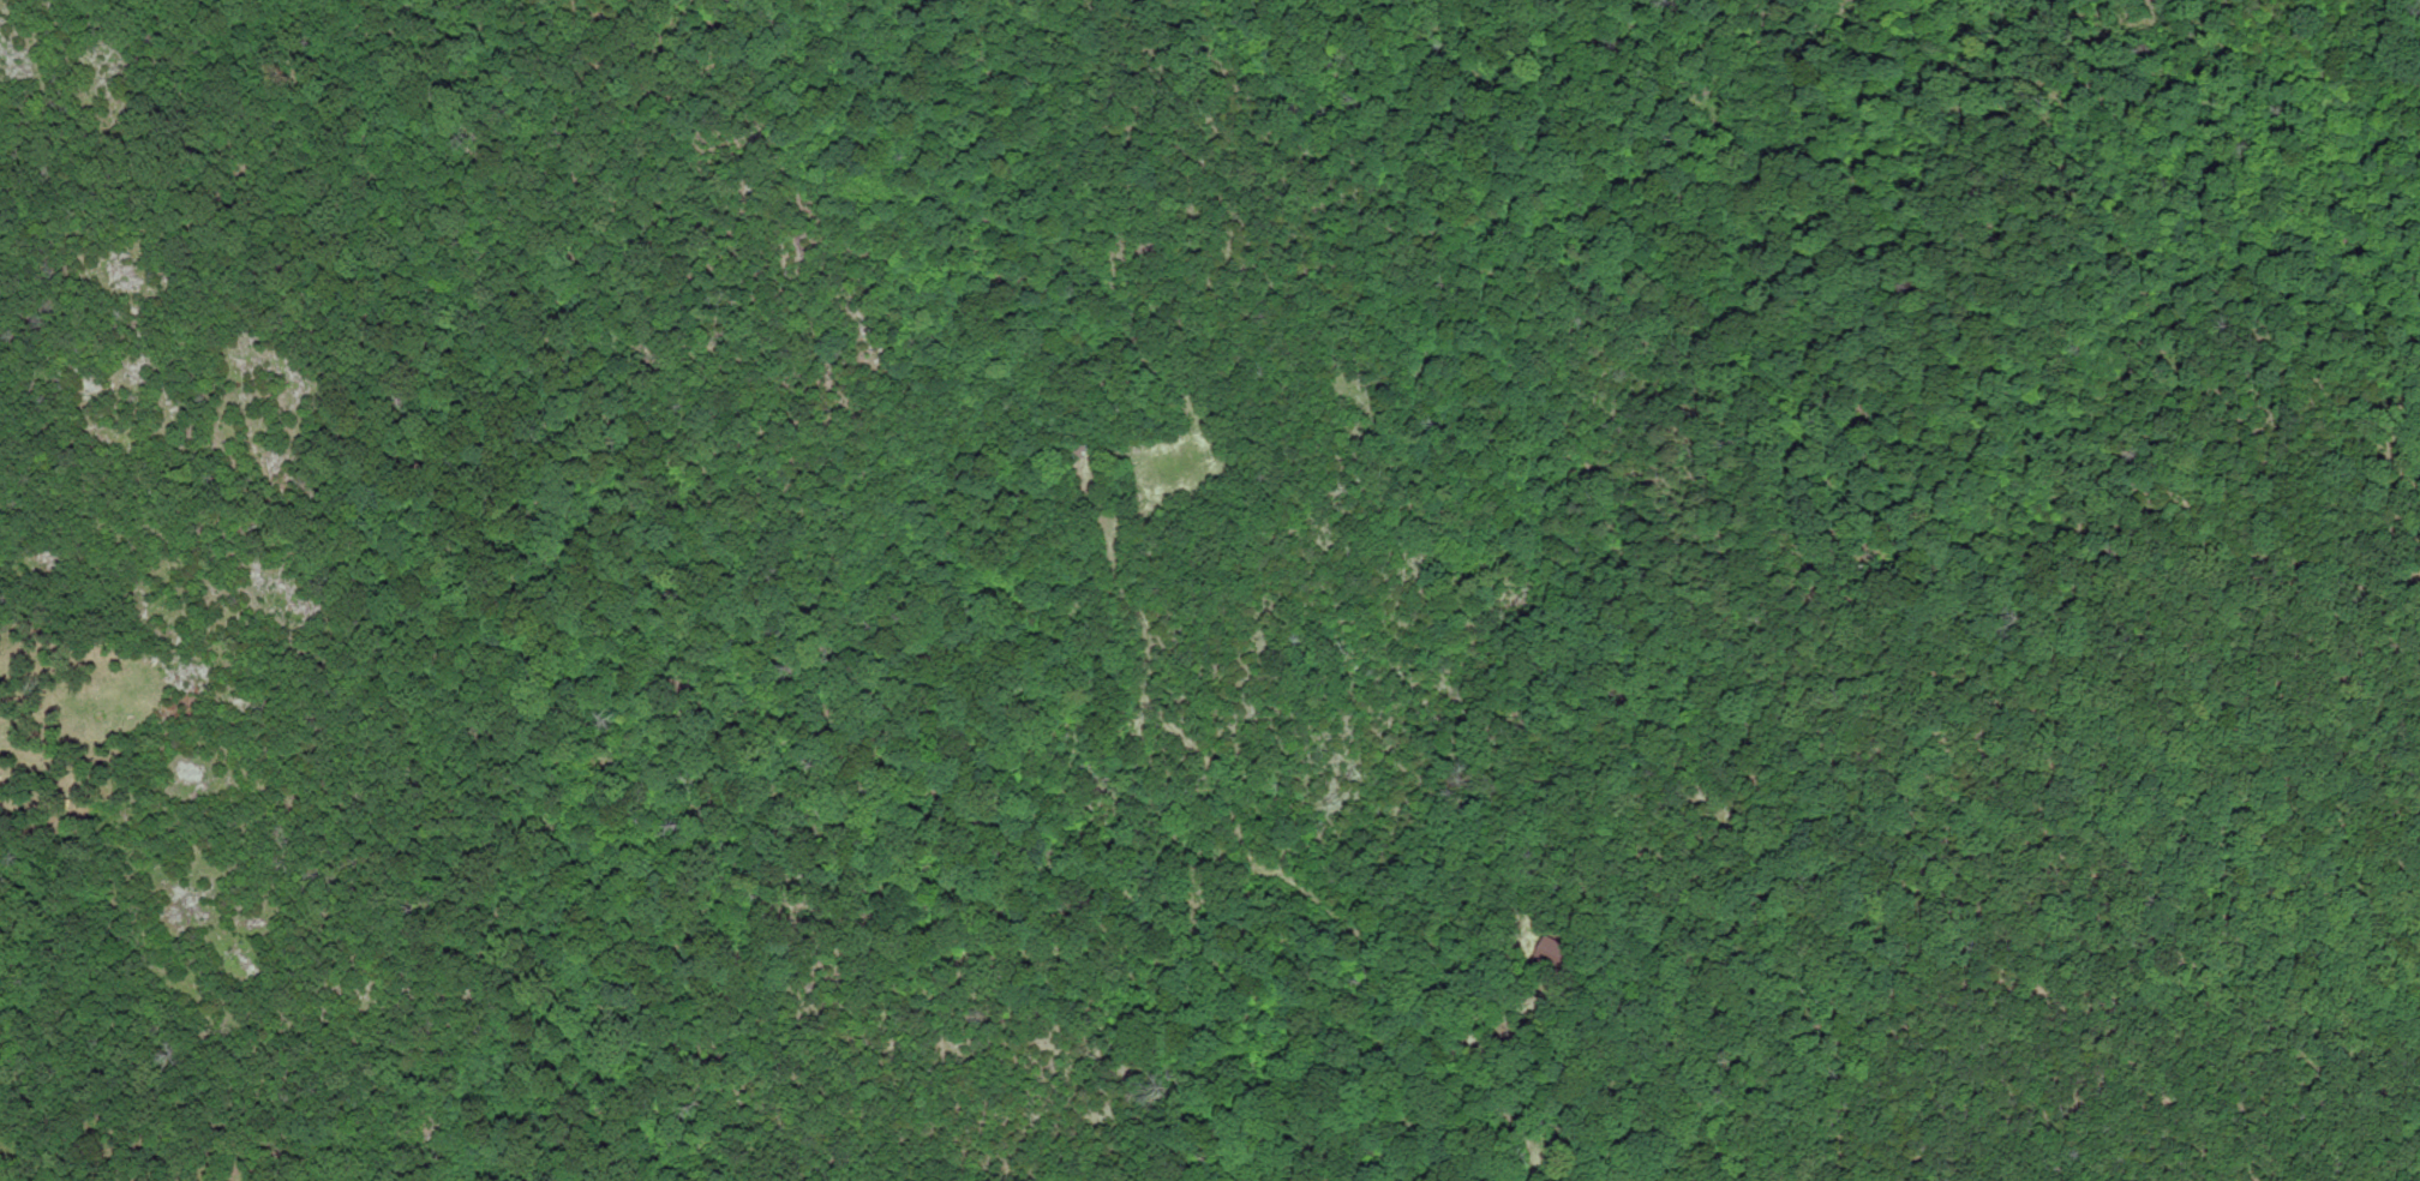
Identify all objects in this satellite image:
road: (2246, 761)

